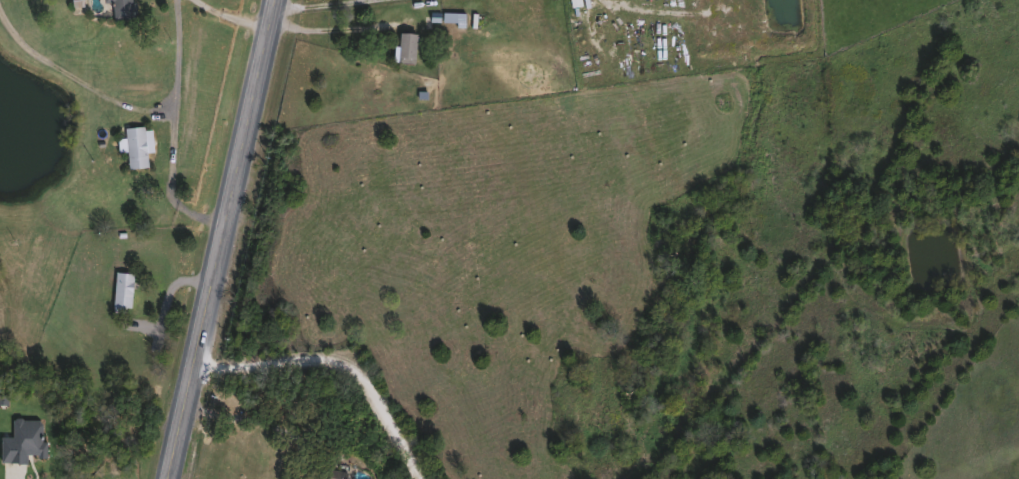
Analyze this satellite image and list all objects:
road: (327, 5)
building: (120, 9)
building: (451, 16)
road: (232, 18)
building: (403, 46)
road: (76, 76)
road: (173, 130)
building: (132, 146)
road: (227, 239)
building: (120, 288)
road: (338, 363)
road: (285, 428)
building: (329, 475)

